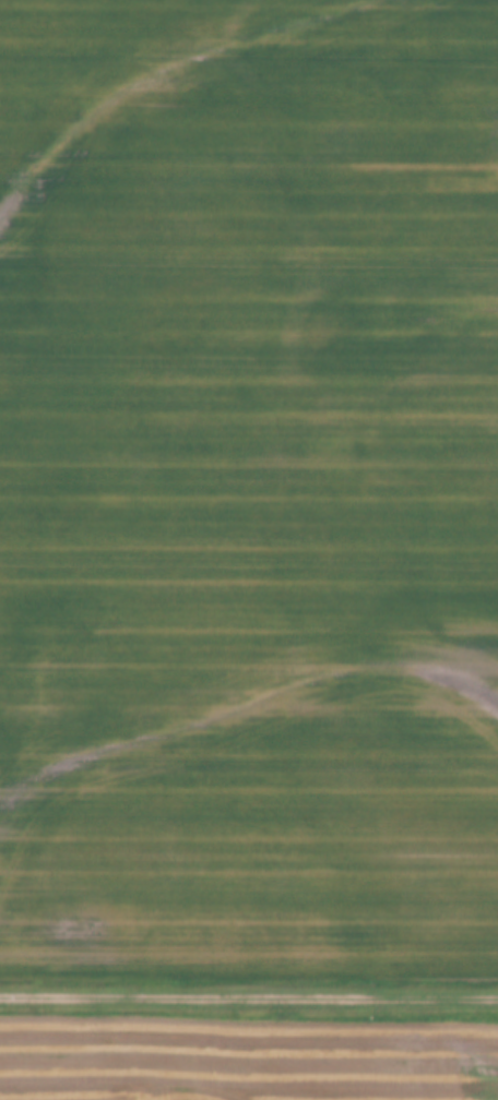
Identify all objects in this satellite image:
road: (249, 1000)

